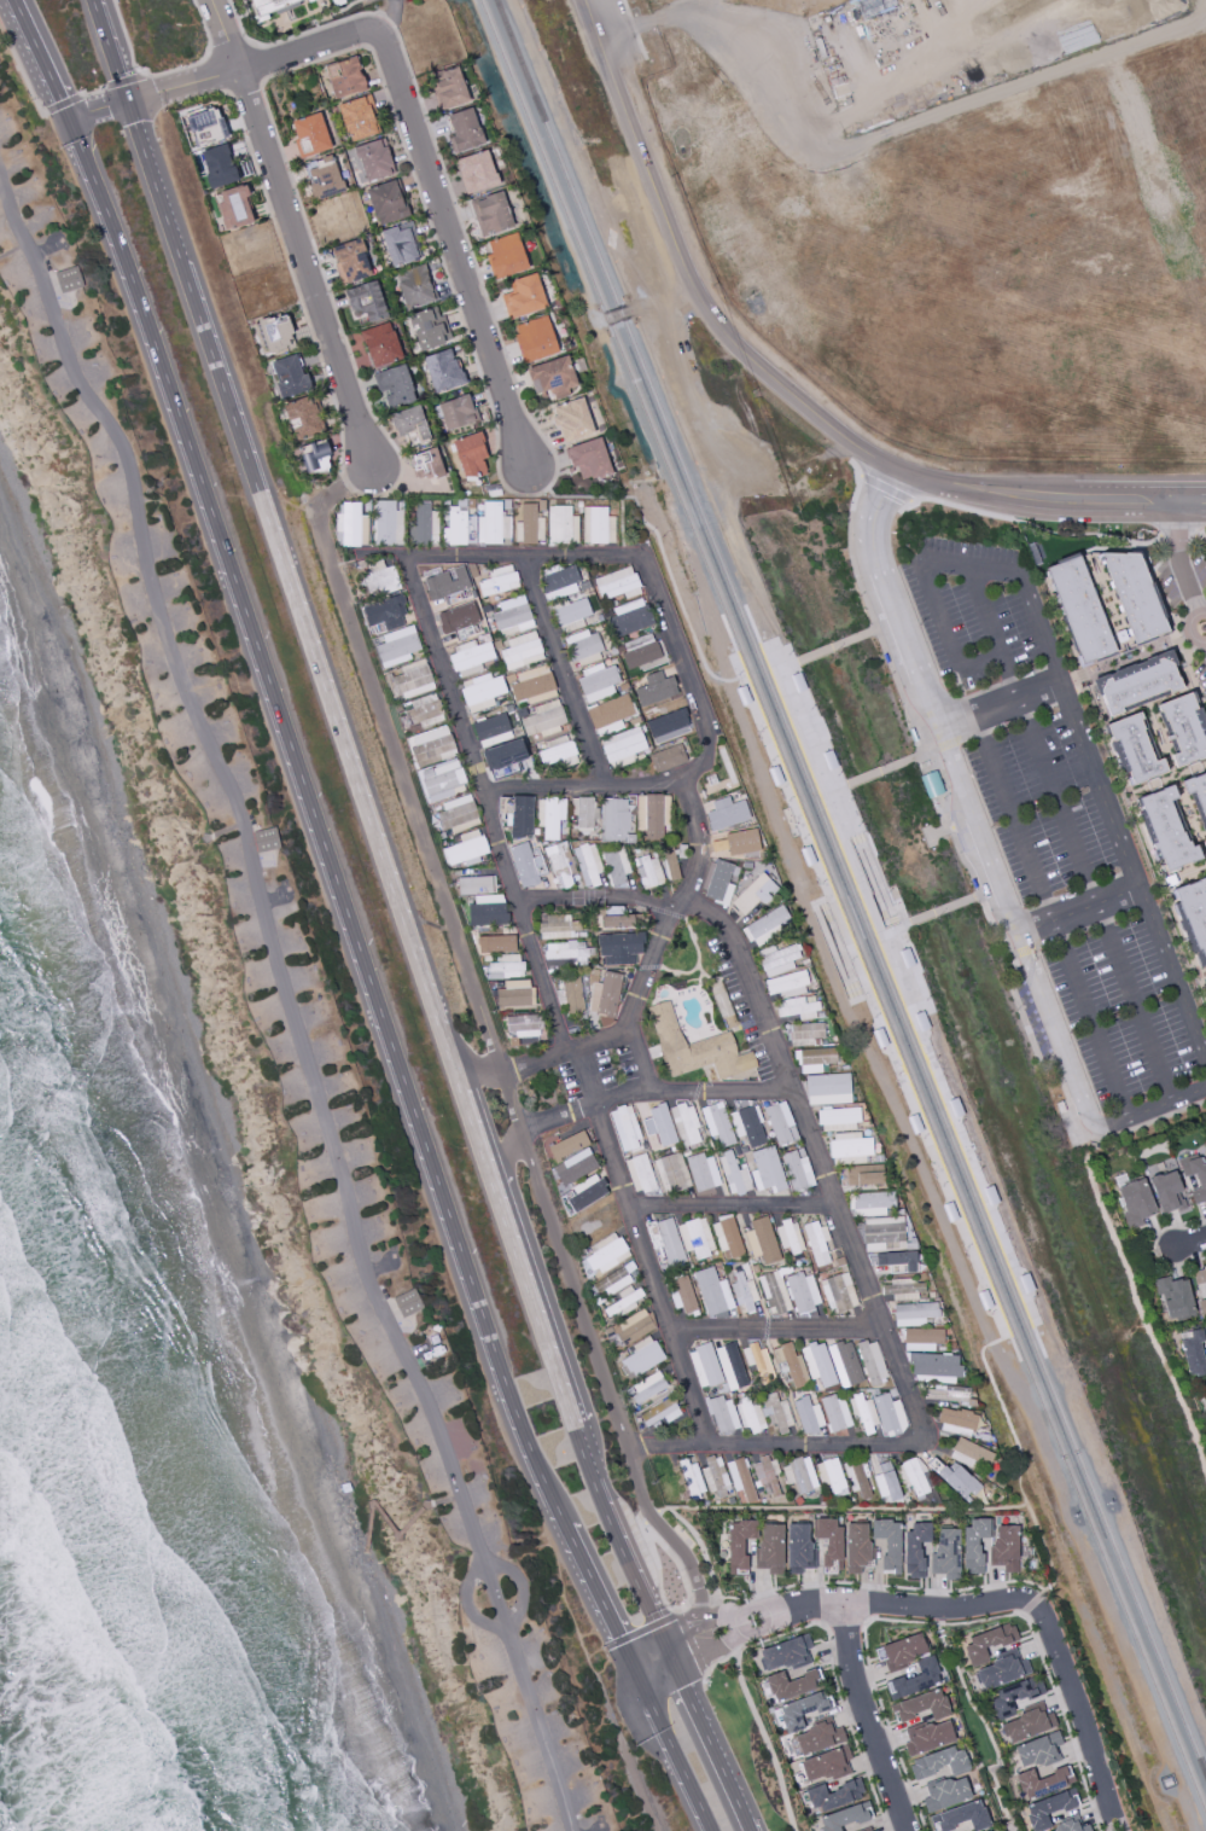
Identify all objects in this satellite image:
building: (338, 2)
building: (272, 7)
road: (634, 29)
road: (223, 31)
road: (305, 42)
road: (113, 50)
road: (227, 54)
road: (328, 58)
road: (41, 60)
road: (22, 70)
road: (164, 72)
building: (344, 77)
road: (183, 81)
road: (124, 82)
road: (244, 83)
building: (447, 88)
road: (94, 93)
traffic signals: (132, 99)
road: (63, 104)
road: (101, 110)
building: (357, 118)
traffic signals: (71, 121)
building: (206, 126)
building: (464, 129)
building: (310, 136)
building: (374, 159)
building: (217, 165)
road: (442, 165)
building: (476, 172)
building: (322, 176)
building: (386, 202)
building: (233, 207)
building: (490, 214)
building: (401, 244)
road: (451, 245)
road: (12, 250)
road: (285, 256)
building: (506, 256)
building: (350, 261)
road: (303, 262)
road: (687, 272)
building: (71, 279)
building: (414, 286)
building: (523, 297)
building: (366, 301)
building: (429, 329)
building: (275, 333)
building: (536, 339)
building: (380, 344)
building: (442, 371)
building: (289, 376)
building: (553, 378)
building: (394, 385)
building: (456, 412)
building: (302, 418)
building: (573, 420)
building: (410, 426)
building: (470, 455)
building: (314, 457)
building: (588, 459)
building: (426, 464)
road: (355, 476)
road: (916, 476)
road: (345, 483)
road: (885, 489)
road: (1071, 498)
road: (322, 504)
road: (1019, 521)
building: (386, 523)
building: (530, 523)
building: (493, 524)
building: (350, 525)
building: (561, 525)
building: (596, 525)
building: (459, 528)
road: (1178, 535)
road: (1200, 535)
road: (1097, 548)
road: (1178, 557)
road: (876, 564)
road: (517, 565)
road: (666, 569)
building: (380, 577)
building: (499, 581)
building: (561, 581)
building: (448, 583)
building: (616, 583)
building: (1134, 595)
parking lot: (977, 608)
building: (1080, 610)
building: (385, 612)
building: (571, 615)
building: (512, 616)
building: (629, 617)
road: (1170, 618)
building: (458, 620)
road: (1187, 627)
road: (863, 633)
road: (309, 639)
building: (396, 646)
building: (584, 649)
building: (522, 651)
building: (640, 651)
road: (812, 653)
building: (470, 657)
road: (689, 664)
road: (785, 665)
road: (563, 675)
building: (412, 680)
road: (897, 681)
building: (596, 682)
building: (1137, 682)
building: (532, 685)
building: (656, 688)
building: (480, 691)
road: (928, 692)
road: (1000, 705)
road: (1149, 705)
building: (424, 710)
building: (610, 714)
building: (543, 719)
building: (666, 722)
building: (1183, 728)
building: (491, 730)
road: (972, 736)
road: (984, 737)
building: (431, 746)
building: (622, 746)
building: (1132, 750)
building: (557, 752)
building: (503, 757)
building: (666, 757)
road: (862, 778)
road: (303, 780)
building: (441, 780)
road: (1177, 781)
building: (931, 784)
road: (1099, 785)
road: (585, 786)
road: (834, 789)
building: (1199, 801)
parking lot: (1049, 803)
road: (409, 804)
building: (505, 809)
building: (583, 812)
building: (726, 813)
building: (458, 814)
building: (652, 815)
building: (522, 816)
building: (549, 818)
building: (616, 820)
building: (1163, 827)
road: (222, 830)
road: (846, 830)
road: (978, 831)
road: (839, 832)
road: (1068, 832)
building: (267, 841)
building: (741, 842)
building: (466, 849)
road: (866, 855)
building: (670, 862)
building: (525, 865)
building: (559, 865)
building: (616, 871)
building: (648, 871)
building: (718, 883)
building: (474, 885)
railway: (851, 893)
building: (753, 894)
road: (595, 903)
road: (957, 905)
railway: (845, 908)
building: (487, 909)
road: (1078, 911)
building: (1193, 917)
road: (920, 919)
building: (616, 920)
building: (765, 924)
road: (831, 925)
building: (558, 926)
building: (495, 943)
building: (619, 948)
building: (565, 951)
building: (776, 959)
road: (835, 964)
building: (506, 966)
road: (1172, 975)
building: (1205, 980)
building: (786, 984)
building: (514, 994)
building: (572, 994)
building: (605, 994)
road: (636, 996)
road: (861, 998)
road: (286, 1004)
building: (797, 1008)
parking lot: (1128, 1008)
building: (522, 1025)
road: (1055, 1028)
building: (803, 1034)
building: (695, 1048)
road: (566, 1056)
building: (814, 1059)
road: (1054, 1062)
road: (476, 1066)
building: (827, 1088)
road: (1205, 1100)
road: (512, 1105)
road: (1149, 1106)
road: (584, 1108)
road: (952, 1115)
building: (838, 1118)
building: (717, 1123)
building: (780, 1123)
building: (684, 1124)
building: (747, 1126)
building: (658, 1127)
building: (624, 1128)
road: (925, 1138)
building: (566, 1146)
building: (849, 1146)
road: (506, 1155)
building: (573, 1167)
building: (797, 1169)
building: (767, 1170)
building: (703, 1172)
building: (639, 1173)
building: (671, 1173)
building: (863, 1174)
building: (733, 1175)
building: (1195, 1178)
building: (1167, 1191)
building: (584, 1193)
building: (1134, 1202)
building: (872, 1203)
road: (726, 1207)
building: (882, 1231)
building: (695, 1237)
building: (727, 1237)
building: (788, 1237)
building: (668, 1240)
building: (762, 1240)
building: (816, 1243)
road: (1189, 1243)
road: (1154, 1245)
building: (604, 1255)
building: (897, 1261)
building: (1199, 1275)
building: (613, 1280)
railway: (1030, 1285)
building: (903, 1289)
building: (802, 1291)
building: (712, 1292)
building: (744, 1292)
building: (838, 1292)
building: (774, 1294)
building: (683, 1295)
building: (1173, 1298)
road: (532, 1301)
building: (408, 1303)
building: (1202, 1306)
road: (1138, 1309)
building: (915, 1313)
road: (770, 1321)
building: (633, 1326)
building: (921, 1338)
railway: (998, 1339)
road: (592, 1342)
building: (1194, 1352)
building: (432, 1355)
building: (757, 1361)
building: (870, 1361)
building: (817, 1364)
building: (844, 1364)
building: (704, 1366)
building: (730, 1366)
building: (793, 1366)
building: (934, 1367)
building: (645, 1370)
building: (945, 1393)
road: (694, 1395)
building: (659, 1412)
building: (776, 1412)
building: (835, 1412)
building: (862, 1413)
building: (723, 1414)
building: (808, 1414)
building: (889, 1414)
building: (748, 1416)
building: (956, 1419)
road: (671, 1448)
building: (969, 1451)
building: (799, 1475)
building: (715, 1476)
building: (831, 1476)
building: (767, 1477)
building: (914, 1477)
building: (692, 1478)
building: (740, 1478)
building: (857, 1478)
building: (957, 1481)
building: (885, 1482)
road: (542, 1483)
road: (439, 1498)
road: (832, 1510)
road: (619, 1542)
building: (829, 1542)
building: (974, 1542)
building: (739, 1544)
building: (887, 1544)
building: (798, 1547)
building: (856, 1547)
building: (1004, 1547)
building: (770, 1548)
building: (915, 1548)
building: (945, 1552)
road: (483, 1558)
road: (1065, 1587)
road: (699, 1591)
road: (595, 1595)
road: (901, 1608)
road: (675, 1612)
road: (572, 1624)
road: (1094, 1640)
building: (986, 1641)
road: (693, 1647)
building: (785, 1655)
traffic signals: (670, 1659)
building: (907, 1666)
building: (1000, 1672)
traffic signals: (634, 1675)
building: (791, 1685)
building: (1010, 1698)
building: (921, 1705)
road: (1102, 1705)
building: (800, 1710)
road: (869, 1720)
road: (1084, 1722)
building: (1026, 1725)
building: (927, 1737)
building: (817, 1738)
road: (765, 1742)
road: (706, 1745)
road: (668, 1750)
building: (1038, 1751)
building: (939, 1762)
building: (825, 1765)
road: (630, 1766)
building: (1042, 1781)
building: (945, 1794)
building: (833, 1795)
building: (1049, 1810)
building: (844, 1817)
building: (1070, 1827)
building: (986, 1830)

